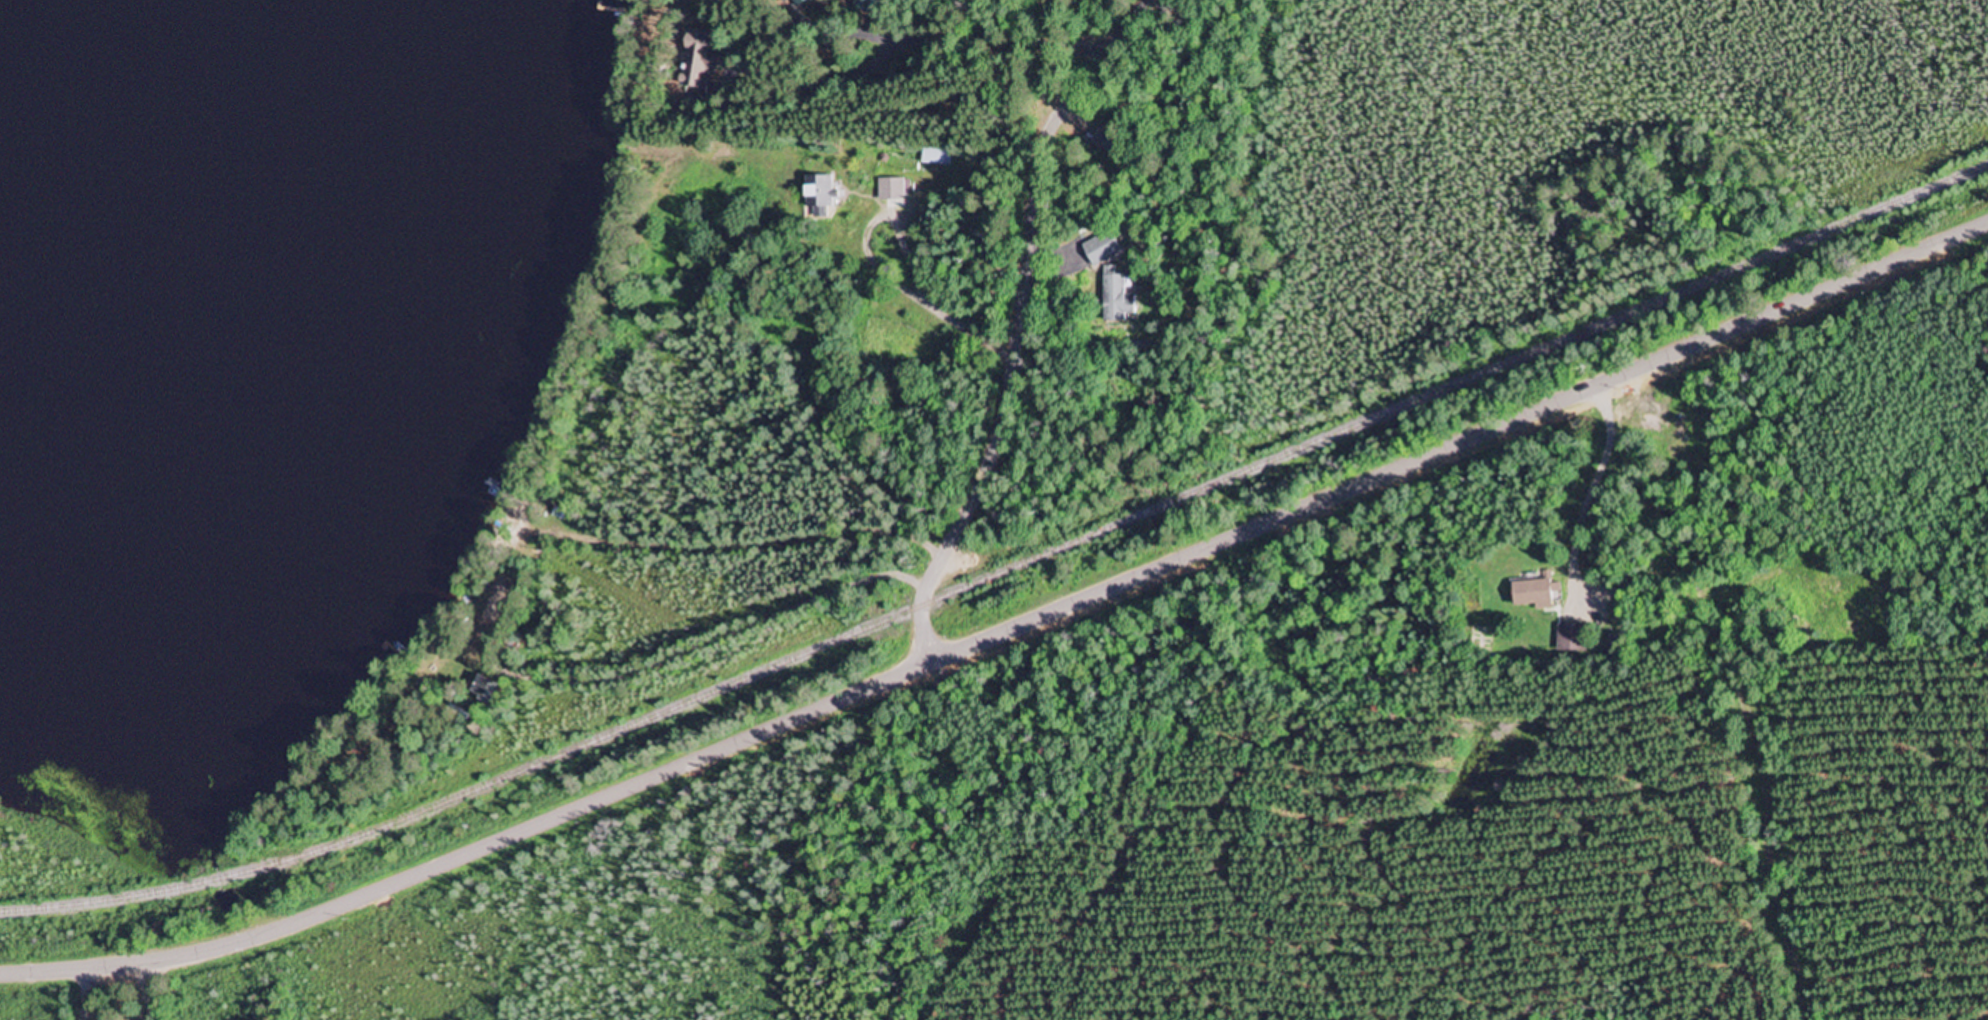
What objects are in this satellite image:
building: (792, 4)
building: (864, 5)
road: (1039, 24)
building: (1106, 140)
road: (785, 153)
building: (935, 155)
building: (890, 190)
building: (816, 195)
building: (1098, 250)
building: (1111, 295)
road: (1015, 342)
road: (769, 573)
railway: (1003, 573)
building: (1533, 593)
road: (1003, 634)
building: (1568, 639)
building: (483, 691)

